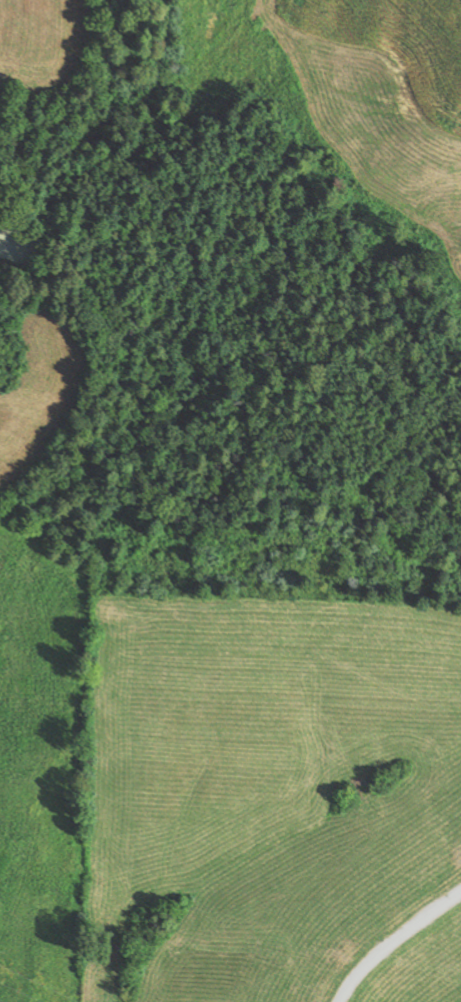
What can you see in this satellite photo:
road: (391, 940)

